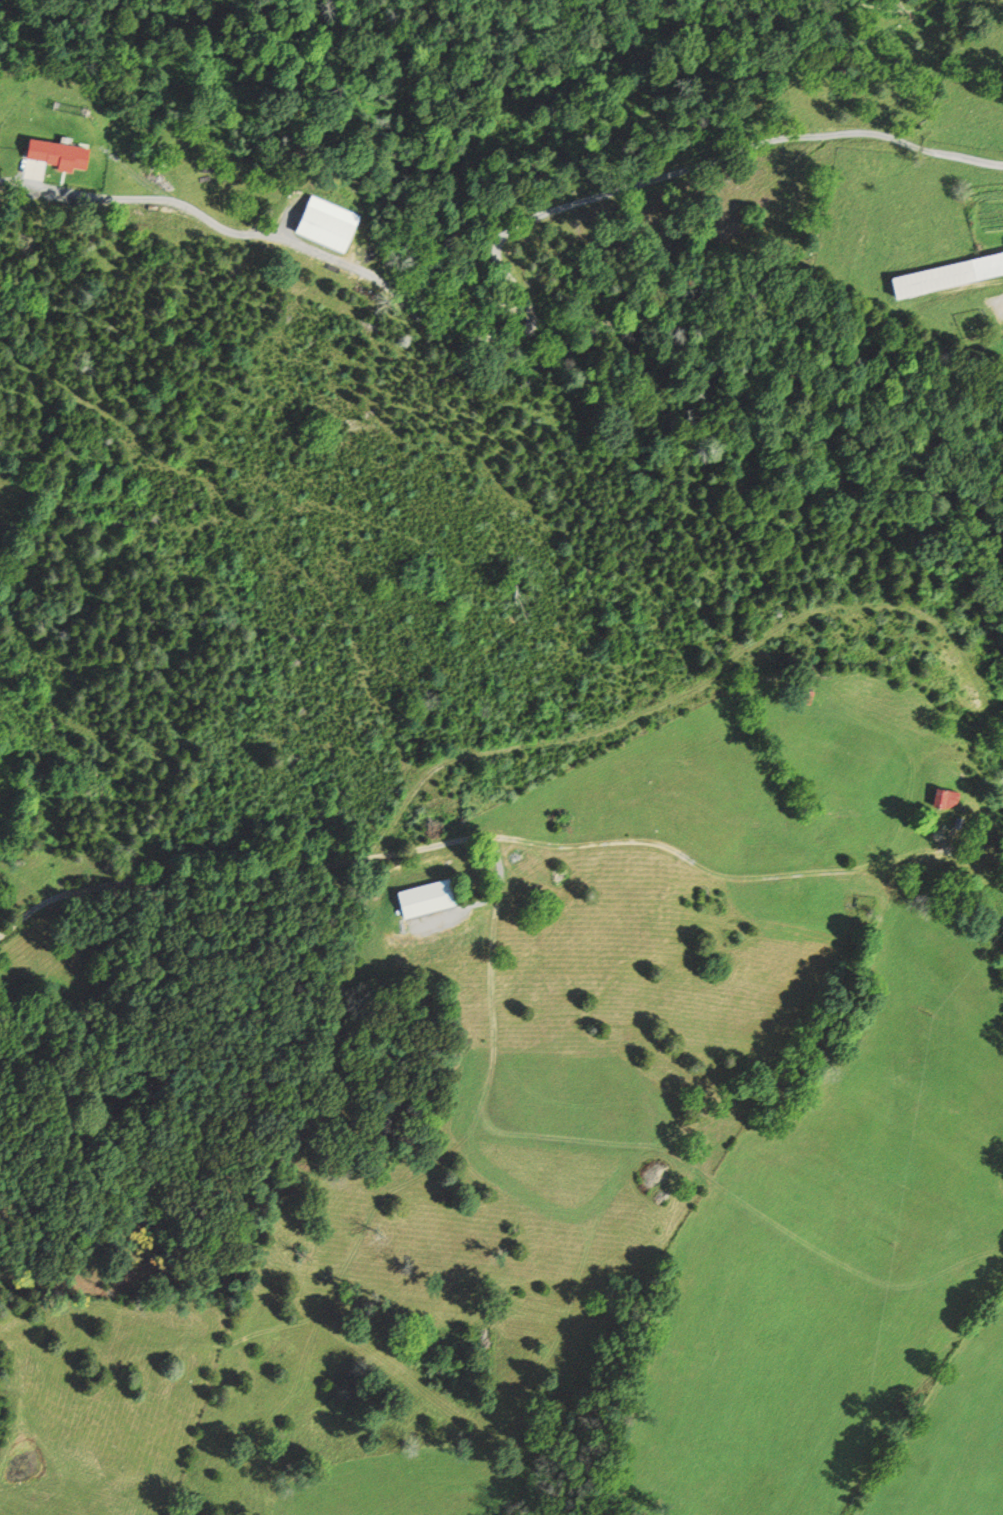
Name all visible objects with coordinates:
building: (323, 228)
building: (946, 273)
road: (1001, 298)
road: (524, 300)
road: (698, 687)
building: (805, 698)
building: (942, 797)
building: (959, 823)
road: (687, 858)
road: (178, 879)

